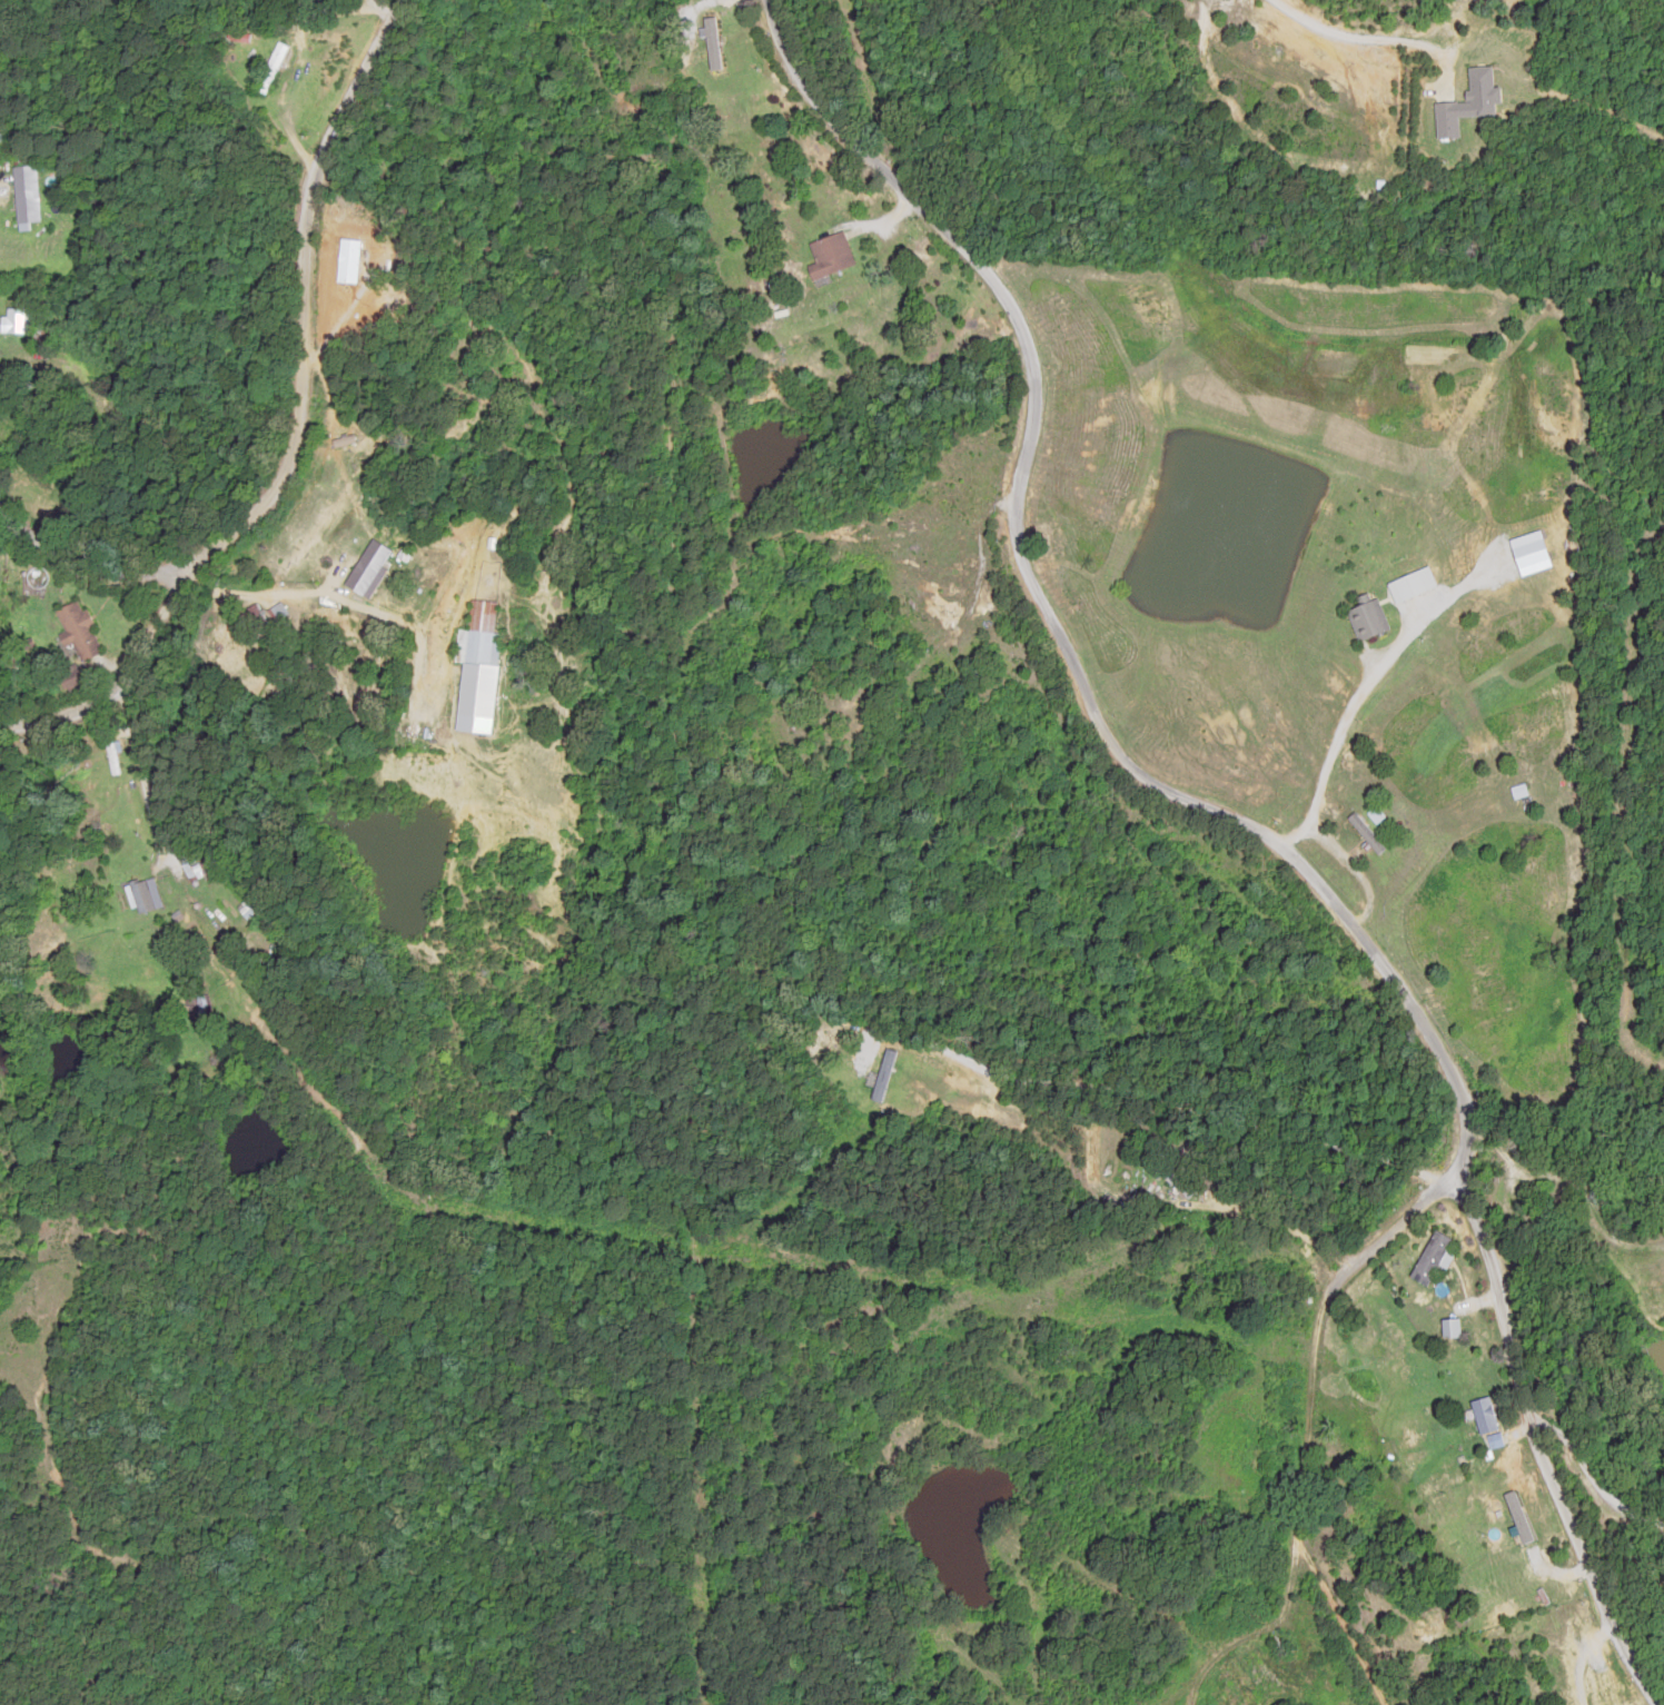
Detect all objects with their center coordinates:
building: (271, 68)
building: (1448, 119)
building: (264, 130)
building: (26, 194)
building: (830, 255)
building: (12, 320)
building: (103, 396)
road: (304, 426)
road: (60, 536)
building: (367, 569)
building: (1412, 585)
building: (277, 613)
building: (1367, 621)
building: (263, 630)
building: (79, 631)
building: (477, 670)
building: (77, 677)
building: (112, 759)
building: (1519, 792)
road: (1230, 809)
building: (1366, 834)
building: (145, 896)
road: (442, 974)
building: (201, 1002)
building: (883, 1074)
building: (1178, 1182)
building: (1430, 1257)
road: (1244, 1286)
building: (1449, 1326)
road: (1358, 1401)

